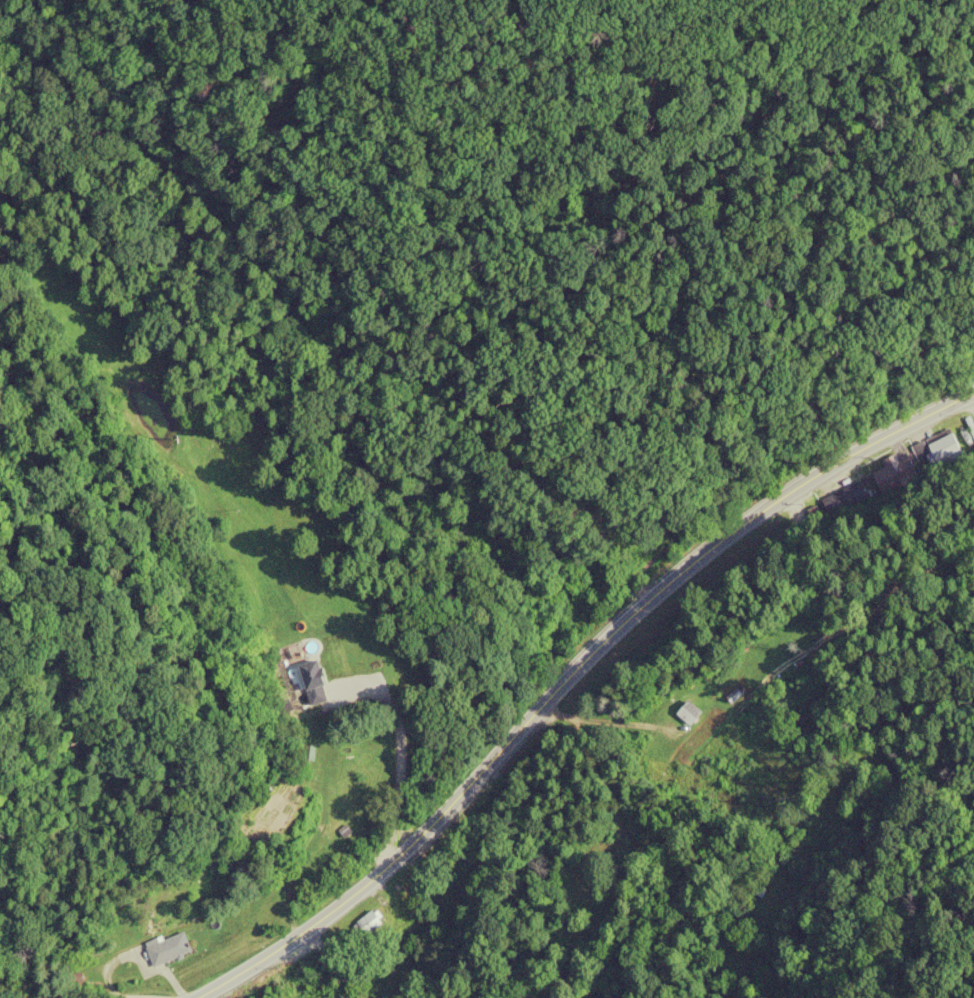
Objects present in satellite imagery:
building: (939, 451)
building: (340, 664)
road: (563, 671)
building: (686, 713)
road: (397, 777)
building: (396, 896)
building: (165, 950)

